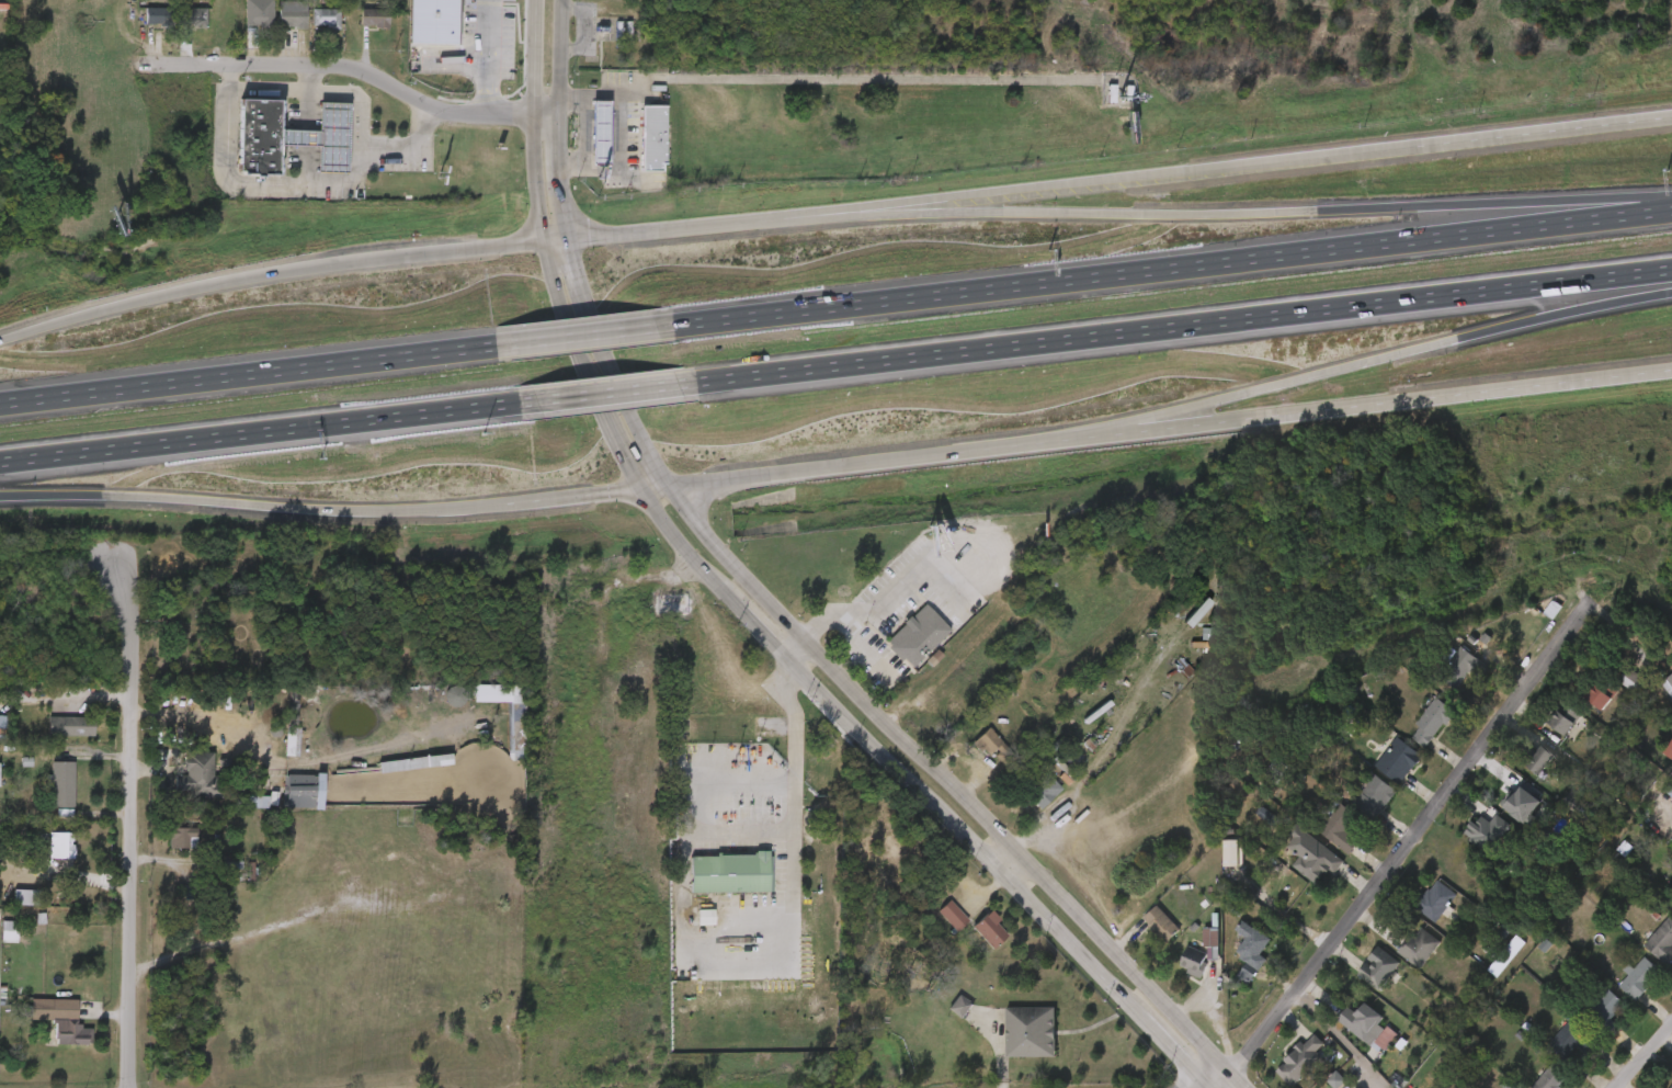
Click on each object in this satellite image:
building: (282, 0)
building: (241, 23)
building: (140, 26)
building: (274, 26)
building: (177, 27)
building: (414, 27)
building: (309, 30)
building: (355, 31)
road: (487, 57)
road: (342, 64)
road: (311, 77)
road: (325, 90)
road: (625, 128)
road: (583, 129)
building: (582, 144)
gas station: (582, 144)
building: (307, 147)
gas station: (307, 147)
building: (240, 148)
building: (635, 148)
road: (1215, 168)
road: (308, 185)
road: (1215, 213)
road: (662, 228)
road: (553, 239)
road: (1175, 265)
road: (265, 272)
road: (1183, 324)
road: (592, 335)
road: (1389, 354)
road: (252, 373)
road: (613, 390)
road: (1155, 424)
road: (265, 430)
road: (319, 510)
road: (886, 583)
road: (770, 605)
road: (737, 608)
building: (898, 646)
road: (796, 651)
building: (1460, 666)
building: (1440, 680)
building: (1669, 683)
building: (1603, 692)
building: (1660, 698)
building: (1579, 709)
building: (939, 712)
building: (1567, 717)
building: (1430, 722)
building: (70, 725)
building: (1545, 729)
building: (1412, 733)
building: (53, 737)
building: (499, 740)
road: (797, 748)
building: (274, 752)
building: (1654, 757)
building: (977, 759)
building: (1540, 759)
building: (1396, 761)
building: (1379, 771)
building: (1521, 771)
building: (202, 775)
road: (1663, 775)
building: (61, 782)
building: (180, 787)
building: (300, 791)
building: (1375, 794)
building: (45, 795)
building: (1024, 801)
building: (285, 802)
building: (1355, 806)
building: (1502, 814)
road: (124, 827)
building: (1248, 827)
building: (1340, 827)
building: (182, 837)
building: (1671, 838)
building: (1320, 839)
building: (58, 840)
building: (1467, 843)
building: (162, 848)
road: (1404, 849)
building: (42, 855)
building: (1318, 862)
building: (226, 863)
building: (1292, 864)
road: (1003, 868)
building: (731, 872)
building: (1436, 902)
building: (7, 907)
building: (1415, 911)
building: (1665, 918)
building: (934, 926)
building: (0, 933)
building: (1141, 934)
building: (1175, 937)
building: (971, 940)
building: (1662, 942)
building: (1420, 947)
building: (1192, 950)
building: (1646, 951)
building: (1400, 959)
building: (1231, 962)
building: (1379, 967)
building: (1174, 973)
building: (1360, 978)
building: (1640, 978)
building: (1619, 988)
building: (1606, 1011)
building: (941, 1017)
building: (1588, 1019)
building: (69, 1025)
building: (42, 1030)
building: (1343, 1033)
road: (1342, 1039)
building: (1571, 1039)
building: (1011, 1043)
building: (1366, 1049)
building: (1551, 1050)
road: (1641, 1053)
building: (1301, 1061)
building: (1282, 1070)
building: (1669, 1076)
building: (1552, 1077)
road: (1209, 1083)
building: (1534, 1083)
building: (1316, 1086)
building: (1671, 1087)

